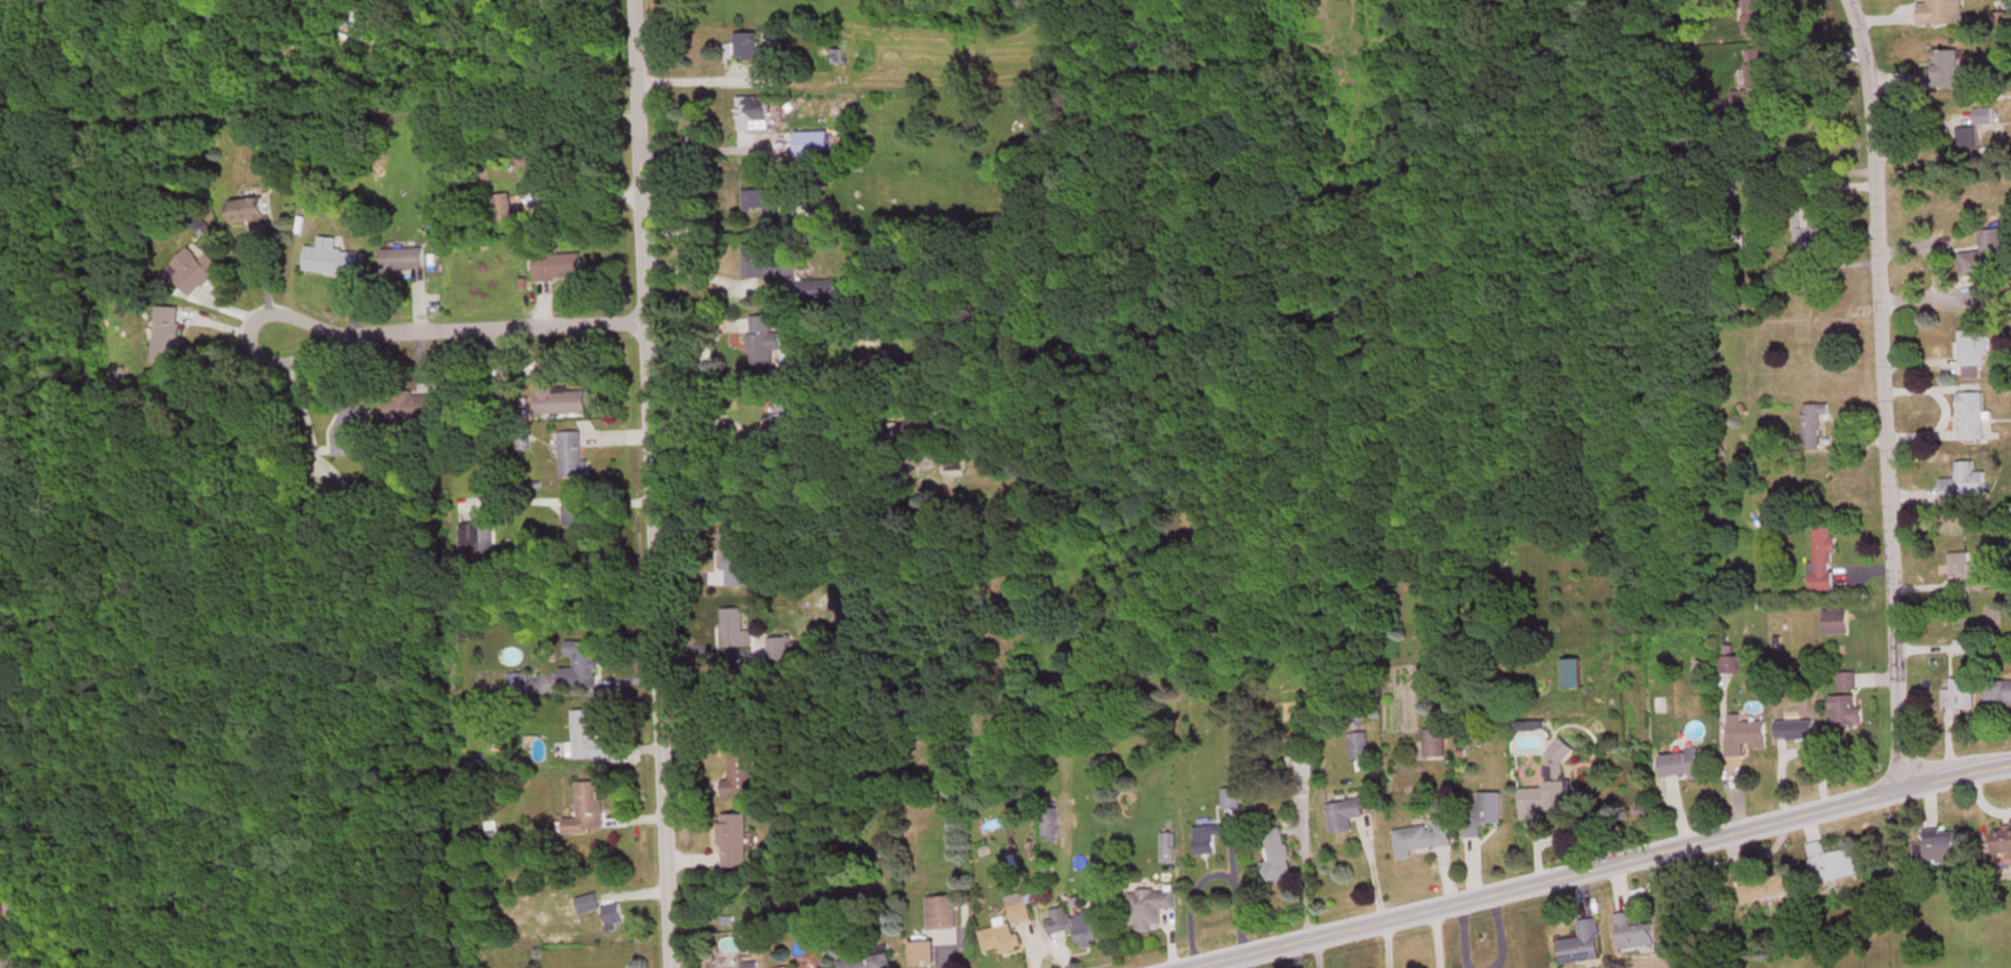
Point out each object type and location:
building: (1942, 14)
building: (1756, 18)
building: (748, 49)
building: (865, 59)
building: (1943, 74)
building: (1759, 82)
building: (754, 116)
building: (1985, 119)
building: (1969, 142)
building: (813, 146)
building: (1805, 154)
building: (762, 204)
building: (503, 213)
building: (248, 215)
building: (1808, 226)
building: (1989, 258)
building: (330, 260)
building: (403, 260)
building: (768, 264)
building: (558, 269)
building: (193, 273)
building: (825, 292)
road: (455, 318)
building: (167, 337)
building: (763, 344)
building: (1975, 353)
building: (865, 364)
road: (297, 389)
road: (1882, 393)
building: (561, 403)
building: (419, 409)
building: (1972, 419)
building: (787, 423)
building: (1814, 427)
building: (920, 431)
building: (573, 458)
building: (985, 462)
road: (648, 484)
building: (1965, 488)
building: (579, 524)
building: (478, 541)
building: (1823, 562)
building: (733, 563)
building: (1969, 578)
building: (1838, 624)
building: (735, 630)
building: (784, 650)
building: (583, 667)
building: (1731, 667)
building: (1573, 676)
building: (519, 684)
building: (1999, 694)
building: (1960, 696)
building: (1846, 713)
building: (1532, 728)
building: (1797, 729)
building: (1746, 737)
building: (589, 740)
building: (1436, 745)
building: (1361, 748)
building: (1301, 757)
building: (1682, 766)
building: (741, 773)
building: (1553, 786)
building: (1232, 801)
building: (590, 809)
building: (1485, 814)
building: (1346, 817)
building: (1052, 824)
building: (1208, 841)
building: (1423, 841)
building: (735, 843)
building: (2003, 844)
building: (1936, 847)
building: (1277, 860)
road: (1604, 866)
building: (1833, 866)
building: (1765, 891)
building: (589, 906)
building: (1152, 910)
building: (1019, 911)
building: (943, 916)
building: (8, 918)
building: (614, 918)
building: (1082, 926)
building: (1637, 938)
building: (1001, 942)
building: (1584, 946)
building: (728, 951)
building: (925, 956)
building: (866, 961)
building: (11, 962)
building: (751, 967)
building: (817, 967)

